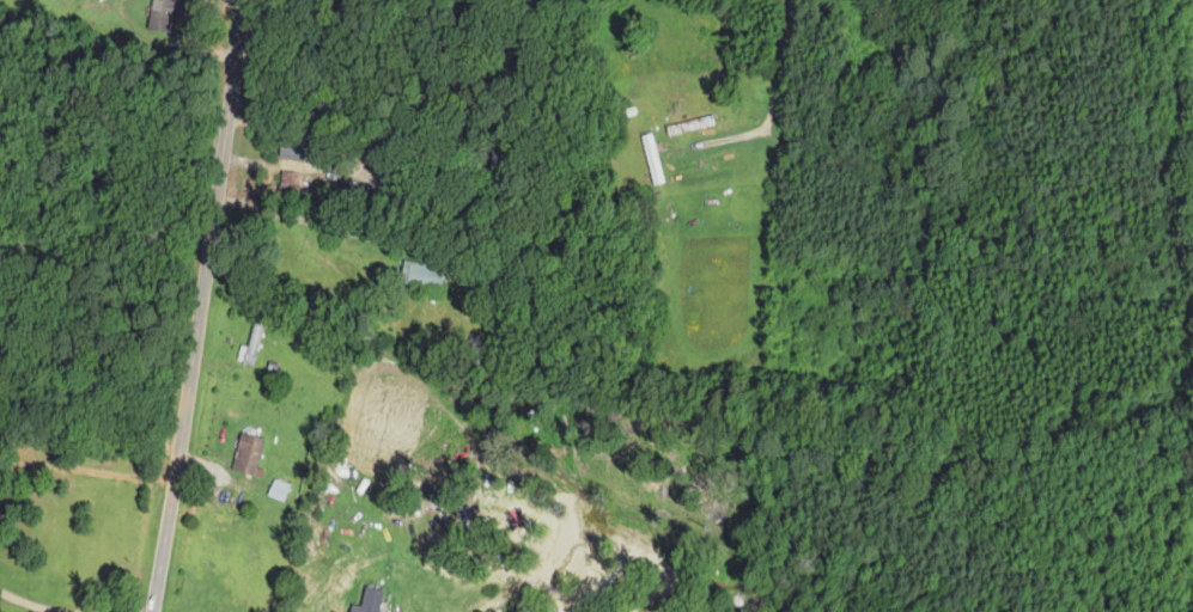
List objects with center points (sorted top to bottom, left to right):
building: (164, 14)
road: (817, 103)
road: (425, 111)
building: (294, 151)
building: (424, 274)
road: (196, 306)
building: (251, 345)
building: (249, 453)
building: (279, 490)
building: (371, 600)

